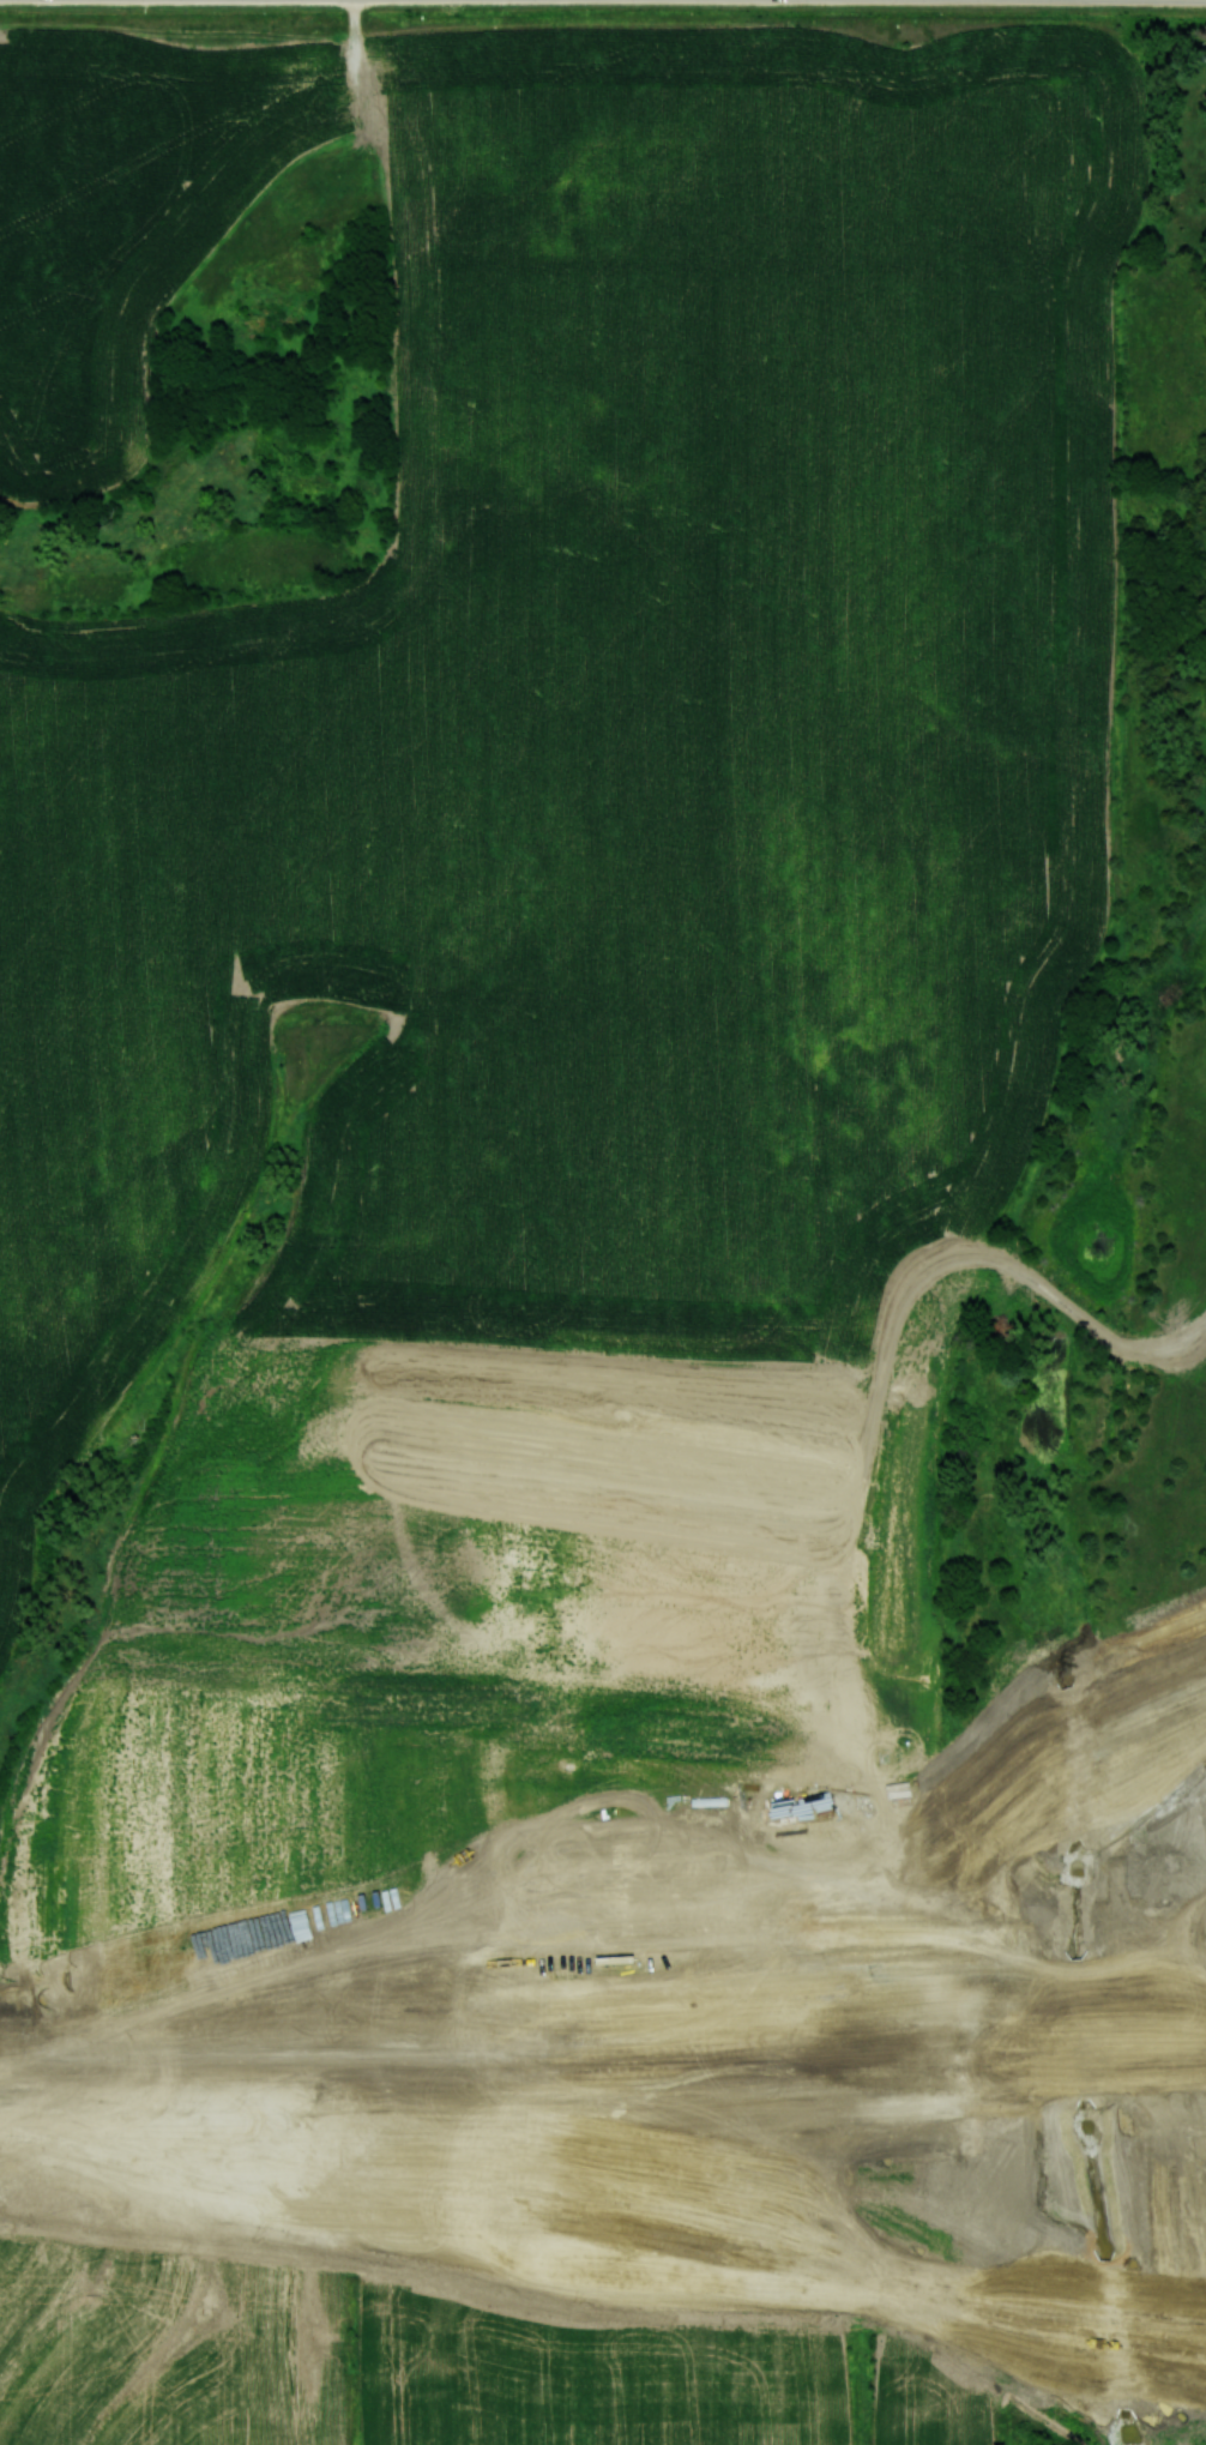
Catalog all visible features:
crop: (567, 689)

